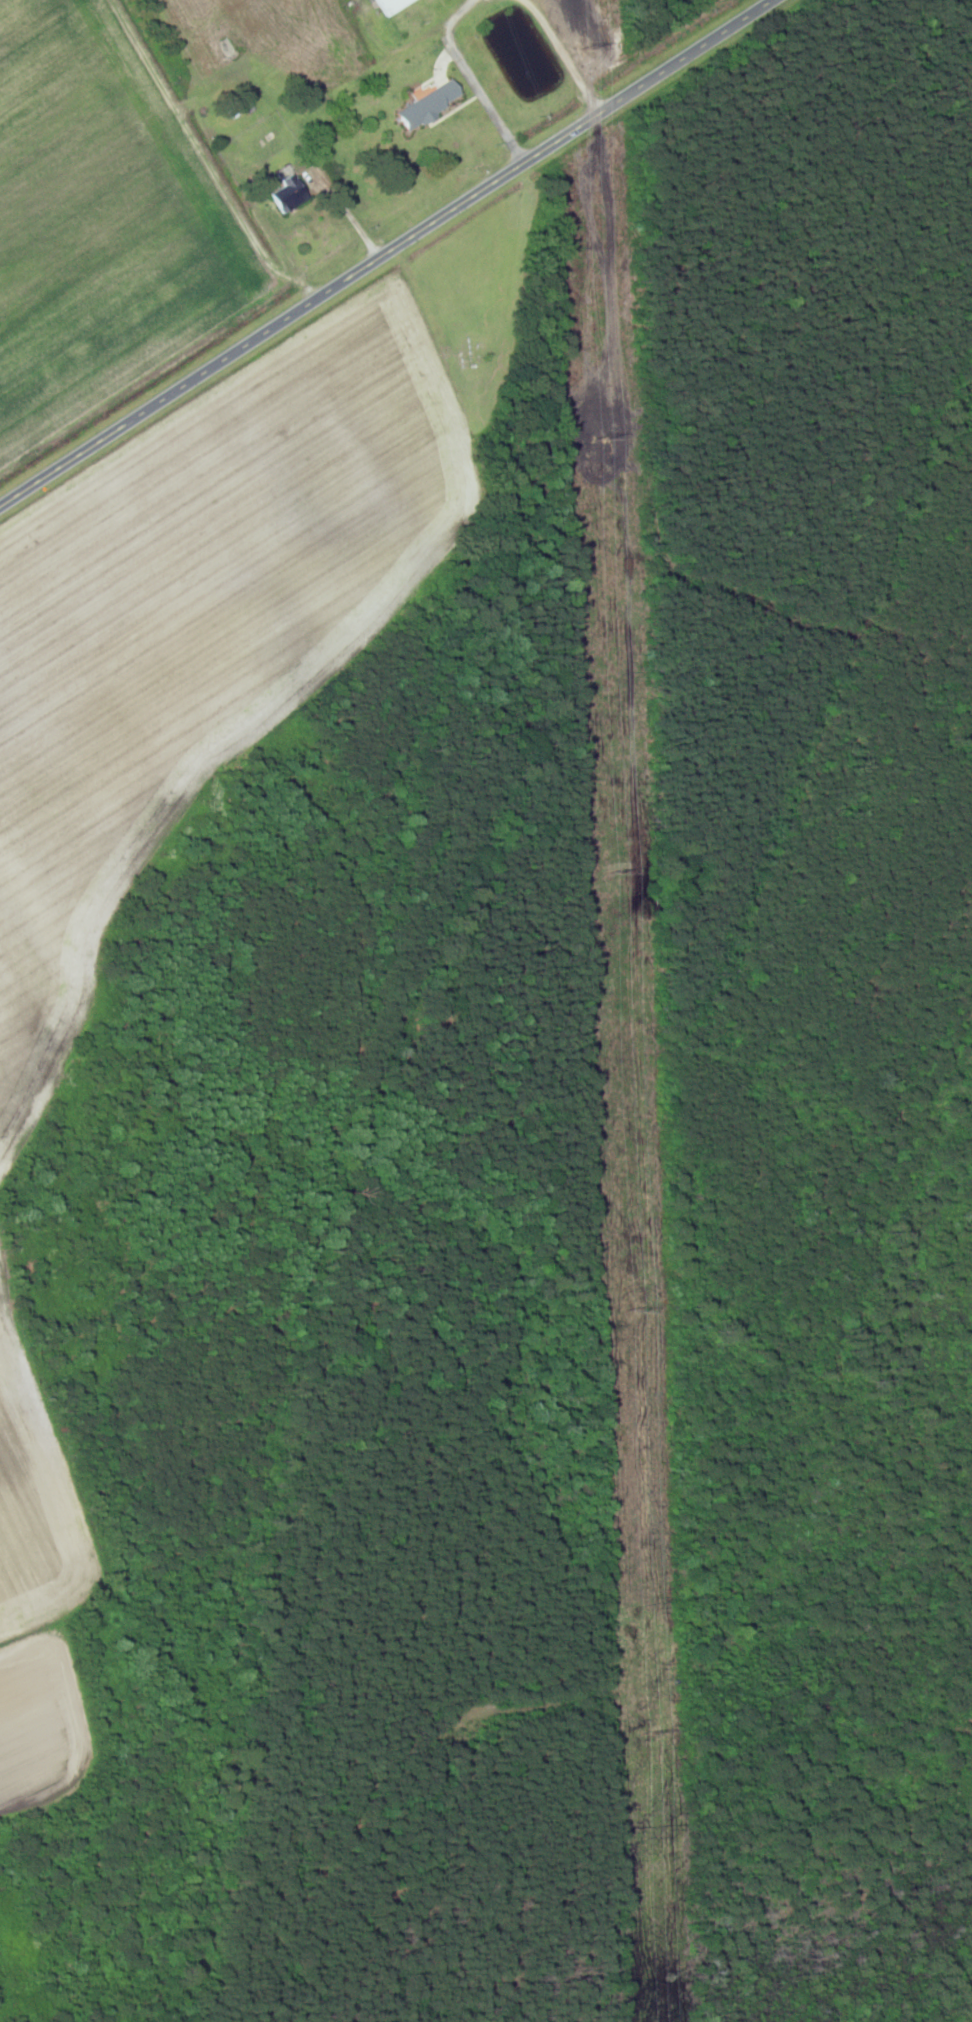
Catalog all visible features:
building: (391, 5)
power tower: (589, 44)
building: (226, 47)
building: (431, 103)
building: (291, 193)
road: (385, 253)
power tower: (602, 435)
power tower: (619, 872)
power tower: (638, 1309)
power tower: (652, 1733)

